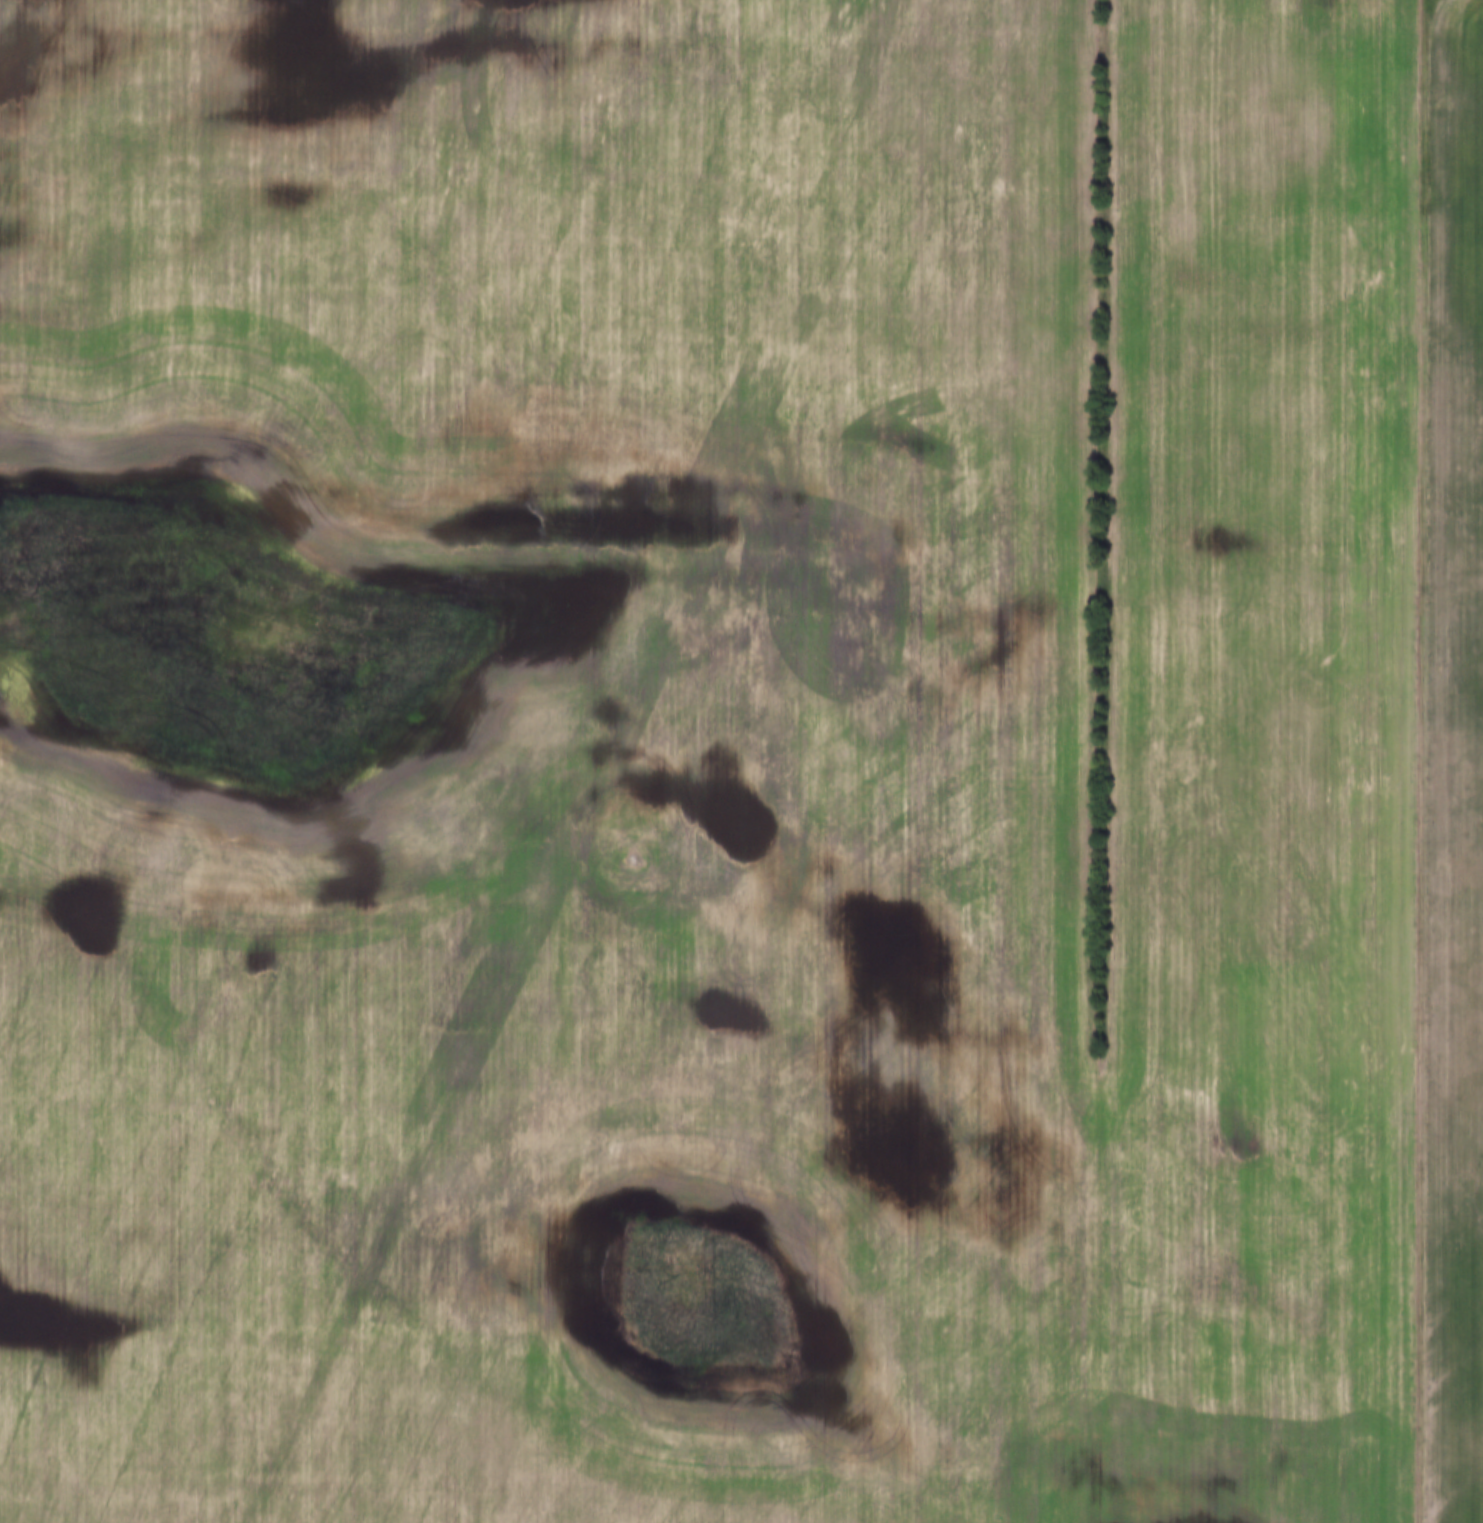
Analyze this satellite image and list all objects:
road: (1424, 761)

